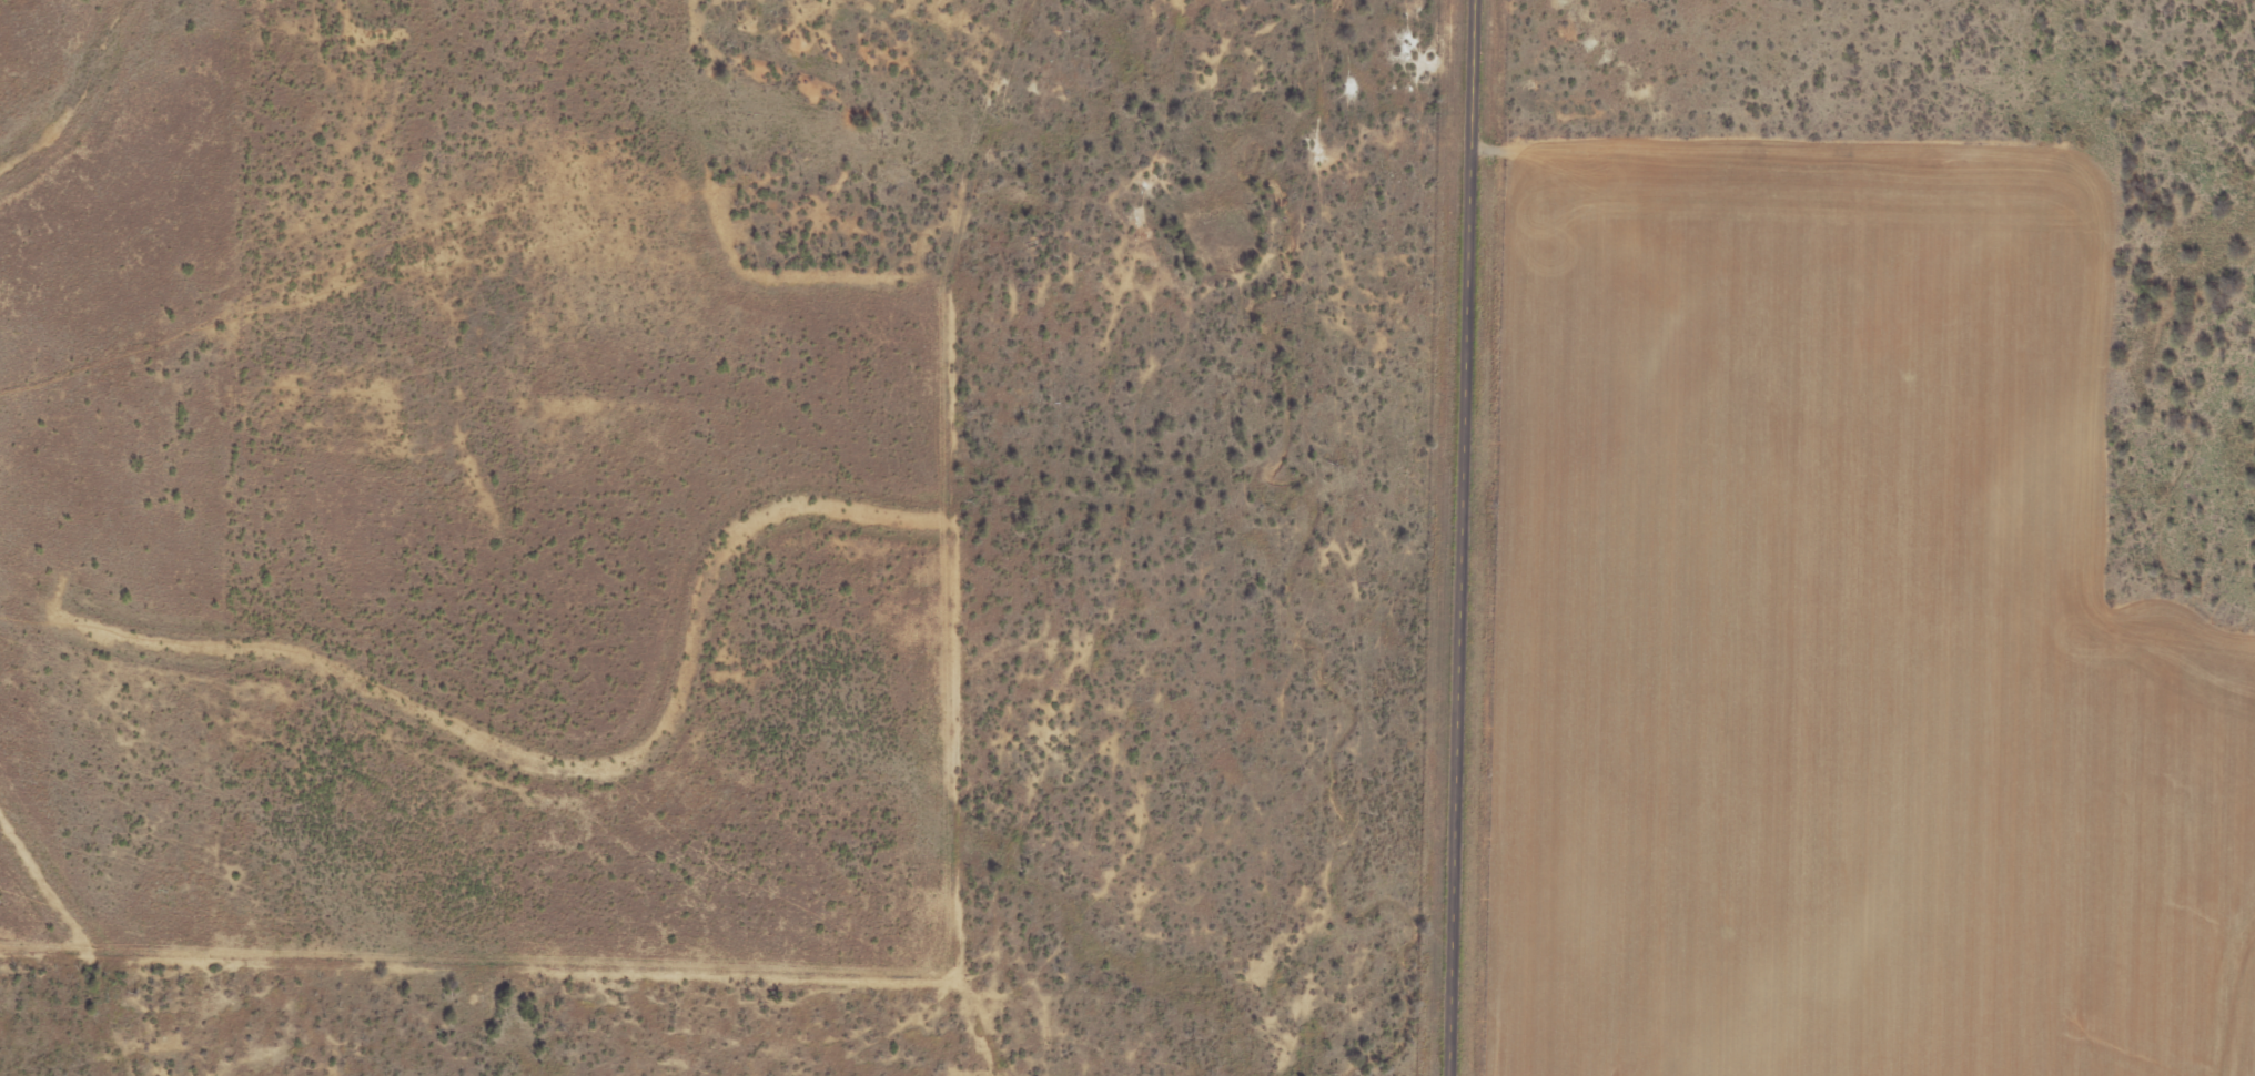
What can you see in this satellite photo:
road: (1458, 538)

